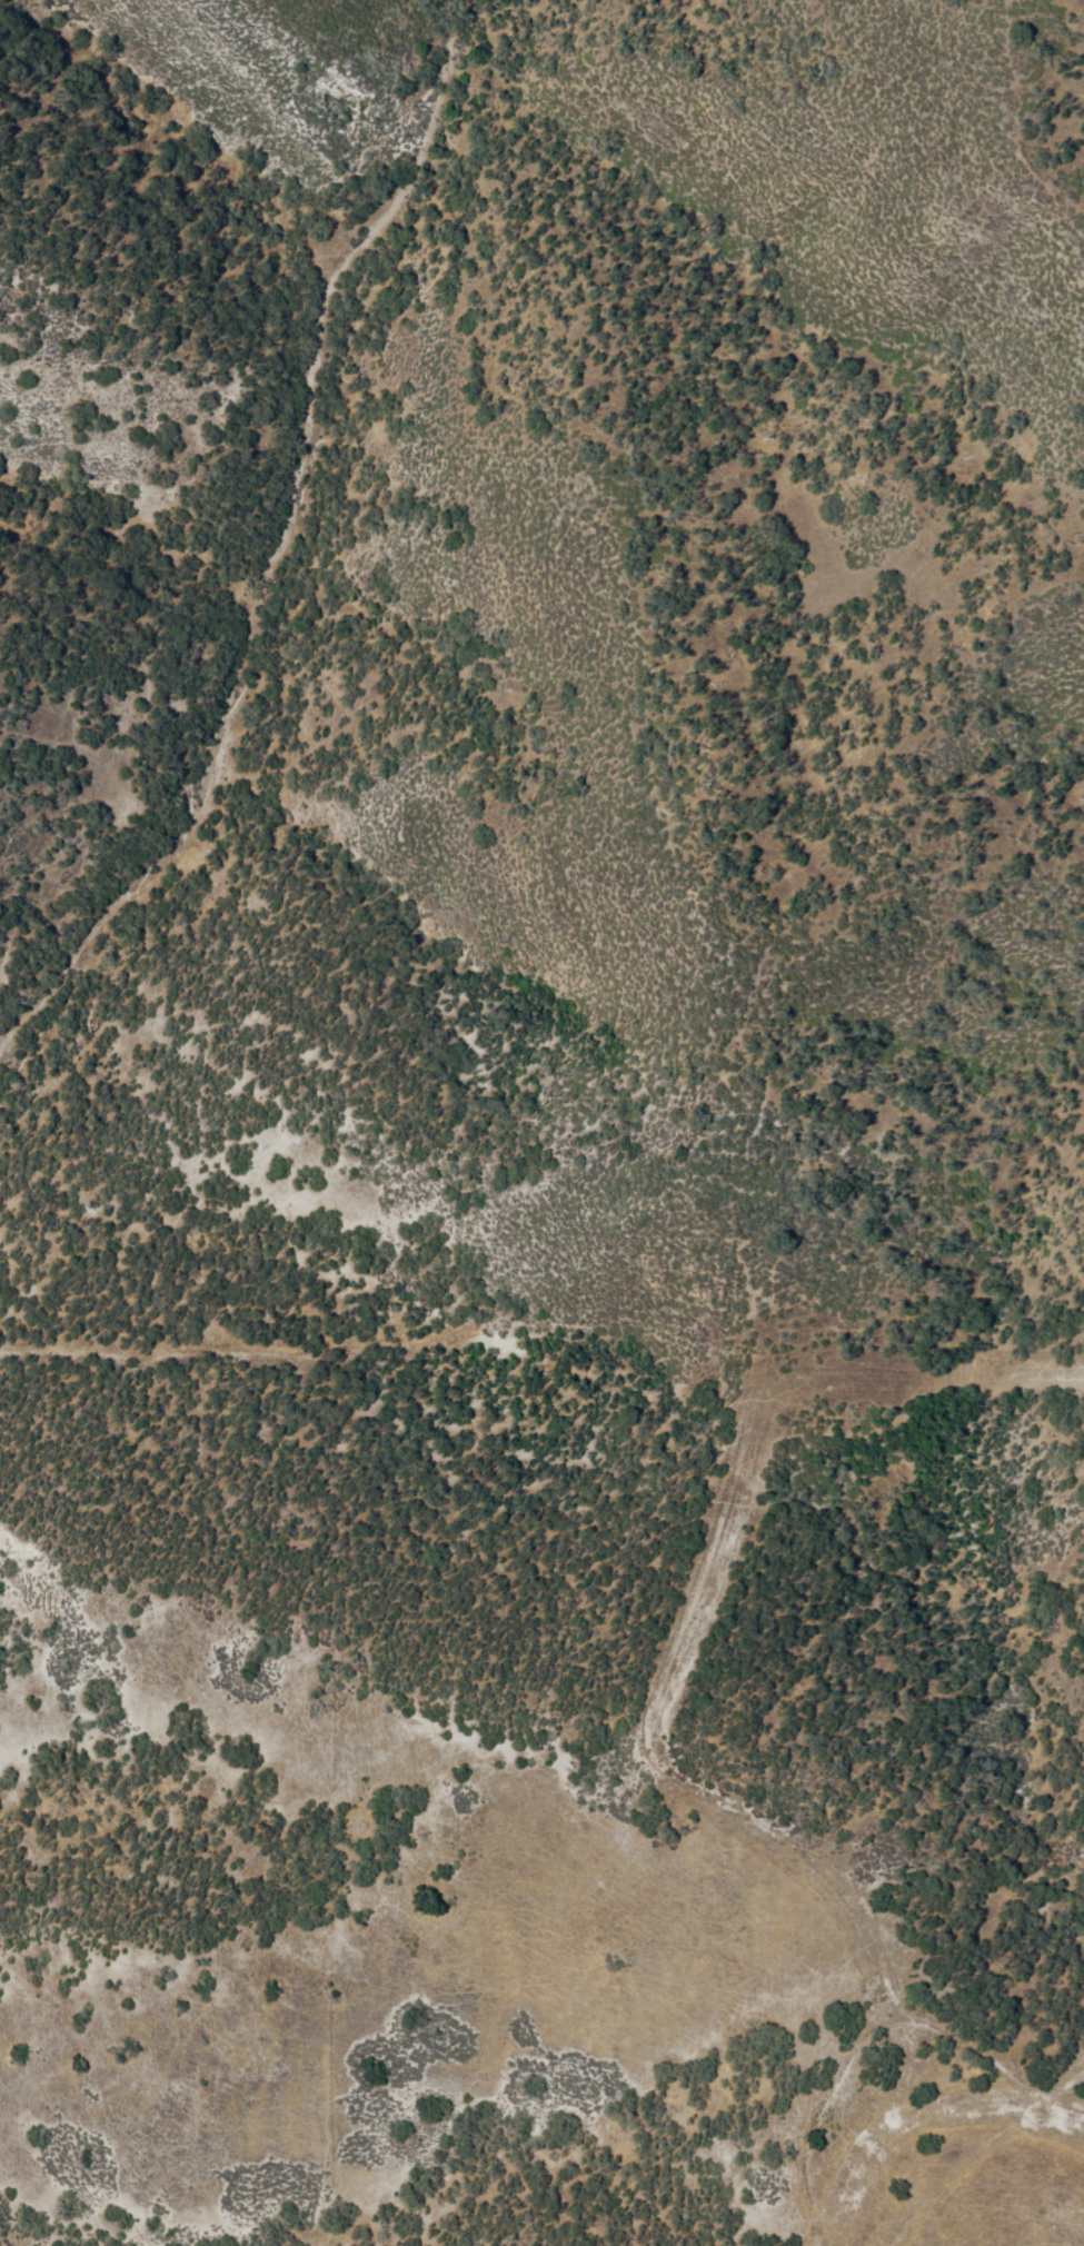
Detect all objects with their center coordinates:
road: (282, 549)
road: (896, 2130)
road: (981, 2149)

